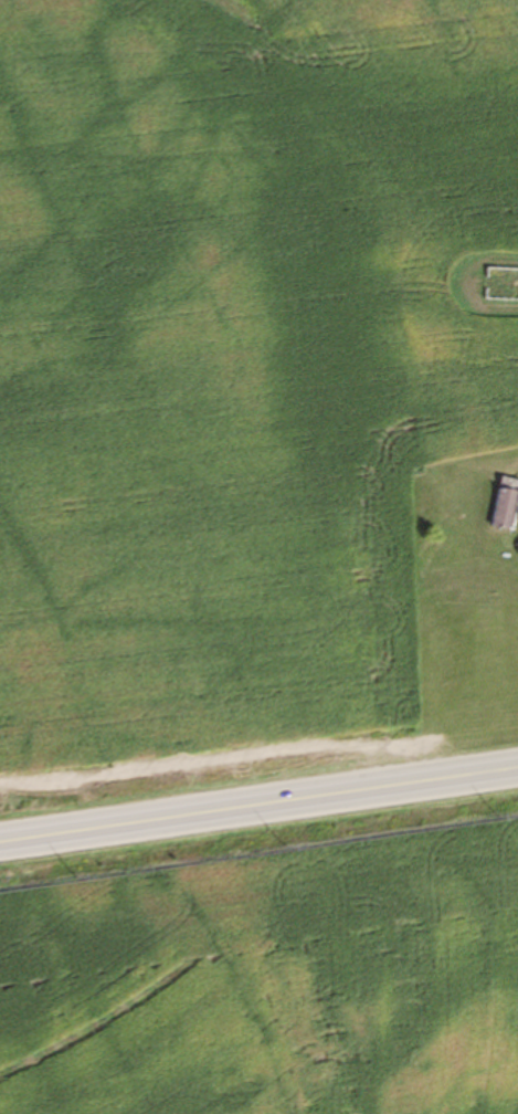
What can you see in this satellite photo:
building: (498, 285)
building: (498, 508)
road: (258, 803)

